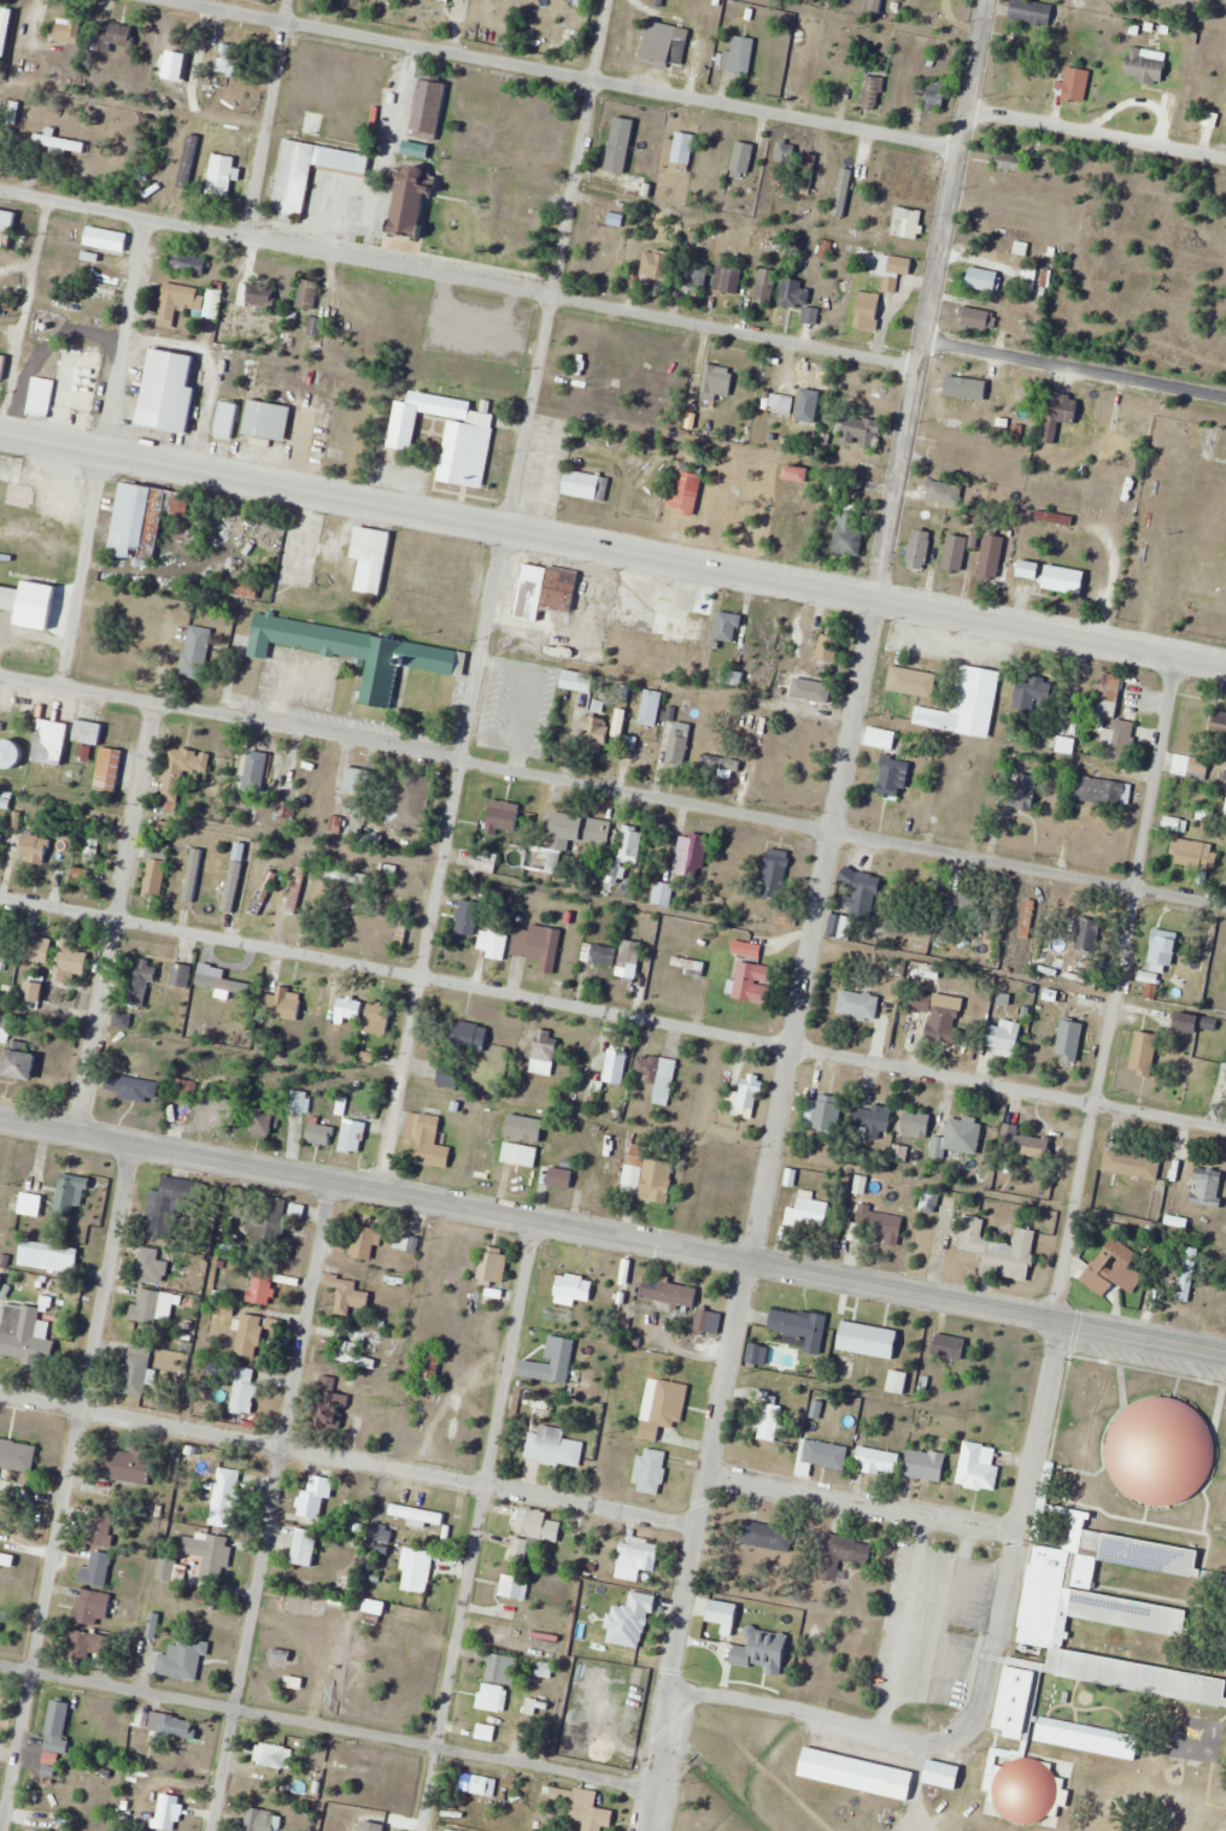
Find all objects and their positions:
building: (445, 0)
building: (810, 0)
building: (1036, 12)
building: (565, 23)
building: (68, 31)
building: (112, 37)
building: (659, 42)
building: (739, 55)
building: (230, 61)
building: (176, 64)
building: (798, 69)
road: (571, 76)
building: (1073, 84)
building: (873, 92)
building: (935, 95)
building: (420, 106)
road: (264, 117)
road: (1096, 130)
building: (58, 142)
building: (684, 148)
building: (645, 153)
building: (785, 153)
building: (743, 158)
building: (1010, 162)
building: (221, 175)
building: (286, 175)
building: (634, 183)
building: (843, 187)
building: (171, 189)
building: (410, 201)
building: (511, 219)
building: (907, 223)
building: (5, 225)
building: (105, 239)
building: (189, 264)
building: (656, 265)
building: (893, 270)
building: (694, 271)
road: (458, 276)
building: (728, 277)
building: (984, 280)
building: (765, 284)
building: (307, 294)
building: (256, 295)
building: (178, 297)
building: (798, 298)
building: (868, 310)
building: (978, 318)
building: (315, 327)
road: (1074, 369)
building: (717, 382)
building: (54, 388)
building: (168, 392)
building: (976, 394)
building: (793, 405)
building: (1060, 415)
building: (225, 421)
building: (259, 421)
building: (862, 432)
road: (98, 451)
building: (457, 452)
building: (797, 474)
building: (573, 485)
building: (679, 491)
building: (942, 491)
building: (1127, 499)
building: (142, 518)
building: (1056, 518)
building: (849, 534)
road: (612, 546)
building: (919, 552)
building: (956, 553)
building: (992, 557)
building: (1031, 570)
building: (371, 575)
building: (1066, 581)
building: (520, 591)
road: (493, 595)
building: (5, 598)
building: (671, 624)
building: (764, 636)
building: (794, 640)
building: (828, 647)
building: (352, 650)
building: (561, 650)
building: (195, 652)
building: (576, 680)
building: (913, 681)
building: (1033, 694)
building: (1110, 694)
building: (821, 697)
building: (966, 704)
building: (651, 708)
building: (620, 722)
building: (1219, 726)
building: (88, 730)
building: (594, 732)
building: (1121, 735)
building: (51, 740)
building: (629, 744)
building: (679, 745)
building: (10, 752)
building: (106, 768)
building: (1198, 768)
building: (182, 770)
building: (256, 773)
building: (893, 776)
building: (358, 780)
building: (1098, 790)
road: (612, 791)
building: (1023, 792)
building: (409, 800)
building: (501, 818)
building: (596, 841)
building: (629, 844)
building: (0, 849)
building: (35, 849)
building: (1193, 852)
building: (691, 855)
building: (482, 863)
building: (156, 874)
building: (774, 874)
building: (862, 890)
building: (297, 891)
building: (662, 893)
road: (816, 915)
building: (1022, 919)
road: (117, 920)
building: (468, 920)
building: (1087, 934)
building: (0, 939)
building: (494, 939)
building: (538, 941)
building: (36, 949)
building: (746, 949)
building: (1160, 955)
building: (630, 957)
building: (70, 959)
building: (690, 966)
building: (181, 975)
building: (139, 979)
building: (752, 982)
building: (223, 984)
building: (34, 991)
building: (282, 1005)
building: (858, 1005)
building: (348, 1009)
road: (612, 1011)
building: (940, 1016)
building: (380, 1019)
building: (1187, 1022)
building: (1210, 1023)
building: (198, 1025)
building: (467, 1035)
building: (1067, 1037)
building: (1004, 1039)
building: (1145, 1051)
building: (545, 1052)
building: (20, 1064)
building: (616, 1066)
building: (657, 1075)
building: (448, 1076)
building: (131, 1087)
building: (299, 1101)
building: (209, 1109)
building: (826, 1113)
building: (266, 1121)
building: (868, 1122)
building: (916, 1125)
building: (319, 1133)
building: (352, 1135)
building: (958, 1138)
building: (427, 1142)
building: (1022, 1142)
building: (510, 1154)
building: (485, 1157)
building: (1132, 1164)
building: (556, 1176)
building: (652, 1176)
building: (1208, 1186)
building: (70, 1195)
building: (24, 1204)
road: (1073, 1204)
building: (172, 1207)
building: (808, 1210)
building: (269, 1219)
building: (1171, 1221)
building: (879, 1222)
road: (612, 1237)
building: (364, 1242)
building: (999, 1250)
building: (48, 1256)
building: (1160, 1256)
building: (1116, 1260)
building: (153, 1264)
building: (492, 1270)
building: (1189, 1272)
building: (262, 1287)
building: (573, 1290)
building: (669, 1291)
building: (348, 1295)
building: (146, 1305)
building: (708, 1320)
building: (799, 1328)
building: (25, 1334)
building: (858, 1339)
building: (949, 1346)
building: (353, 1350)
building: (757, 1355)
building: (551, 1362)
building: (136, 1369)
building: (430, 1371)
building: (898, 1381)
building: (245, 1391)
building: (330, 1405)
building: (662, 1410)
building: (768, 1419)
building: (553, 1446)
building: (1165, 1451)
building: (821, 1456)
building: (16, 1457)
road: (352, 1460)
building: (878, 1461)
building: (926, 1465)
building: (125, 1466)
building: (976, 1468)
building: (650, 1471)
road: (66, 1487)
building: (225, 1492)
building: (316, 1496)
road: (864, 1502)
road: (270, 1507)
building: (428, 1518)
building: (534, 1524)
road: (475, 1526)
building: (105, 1527)
building: (765, 1536)
building: (305, 1547)
building: (516, 1551)
building: (207, 1553)
building: (639, 1554)
building: (843, 1554)
building: (7, 1560)
building: (98, 1568)
building: (166, 1569)
building: (416, 1577)
building: (1224, 1580)
building: (514, 1586)
building: (295, 1602)
building: (90, 1609)
building: (1221, 1609)
building: (1156, 1627)
building: (89, 1643)
building: (282, 1655)
building: (183, 1659)
building: (501, 1668)
building: (492, 1697)
building: (1096, 1703)
road: (811, 1718)
building: (169, 1725)
building: (57, 1726)
road: (327, 1729)
building: (1087, 1737)
building: (274, 1756)
building: (933, 1771)
building: (849, 1773)
building: (479, 1785)
building: (997, 1789)
building: (583, 1807)
building: (168, 1812)
building: (260, 1820)
building: (34, 1830)
building: (448, 1830)

